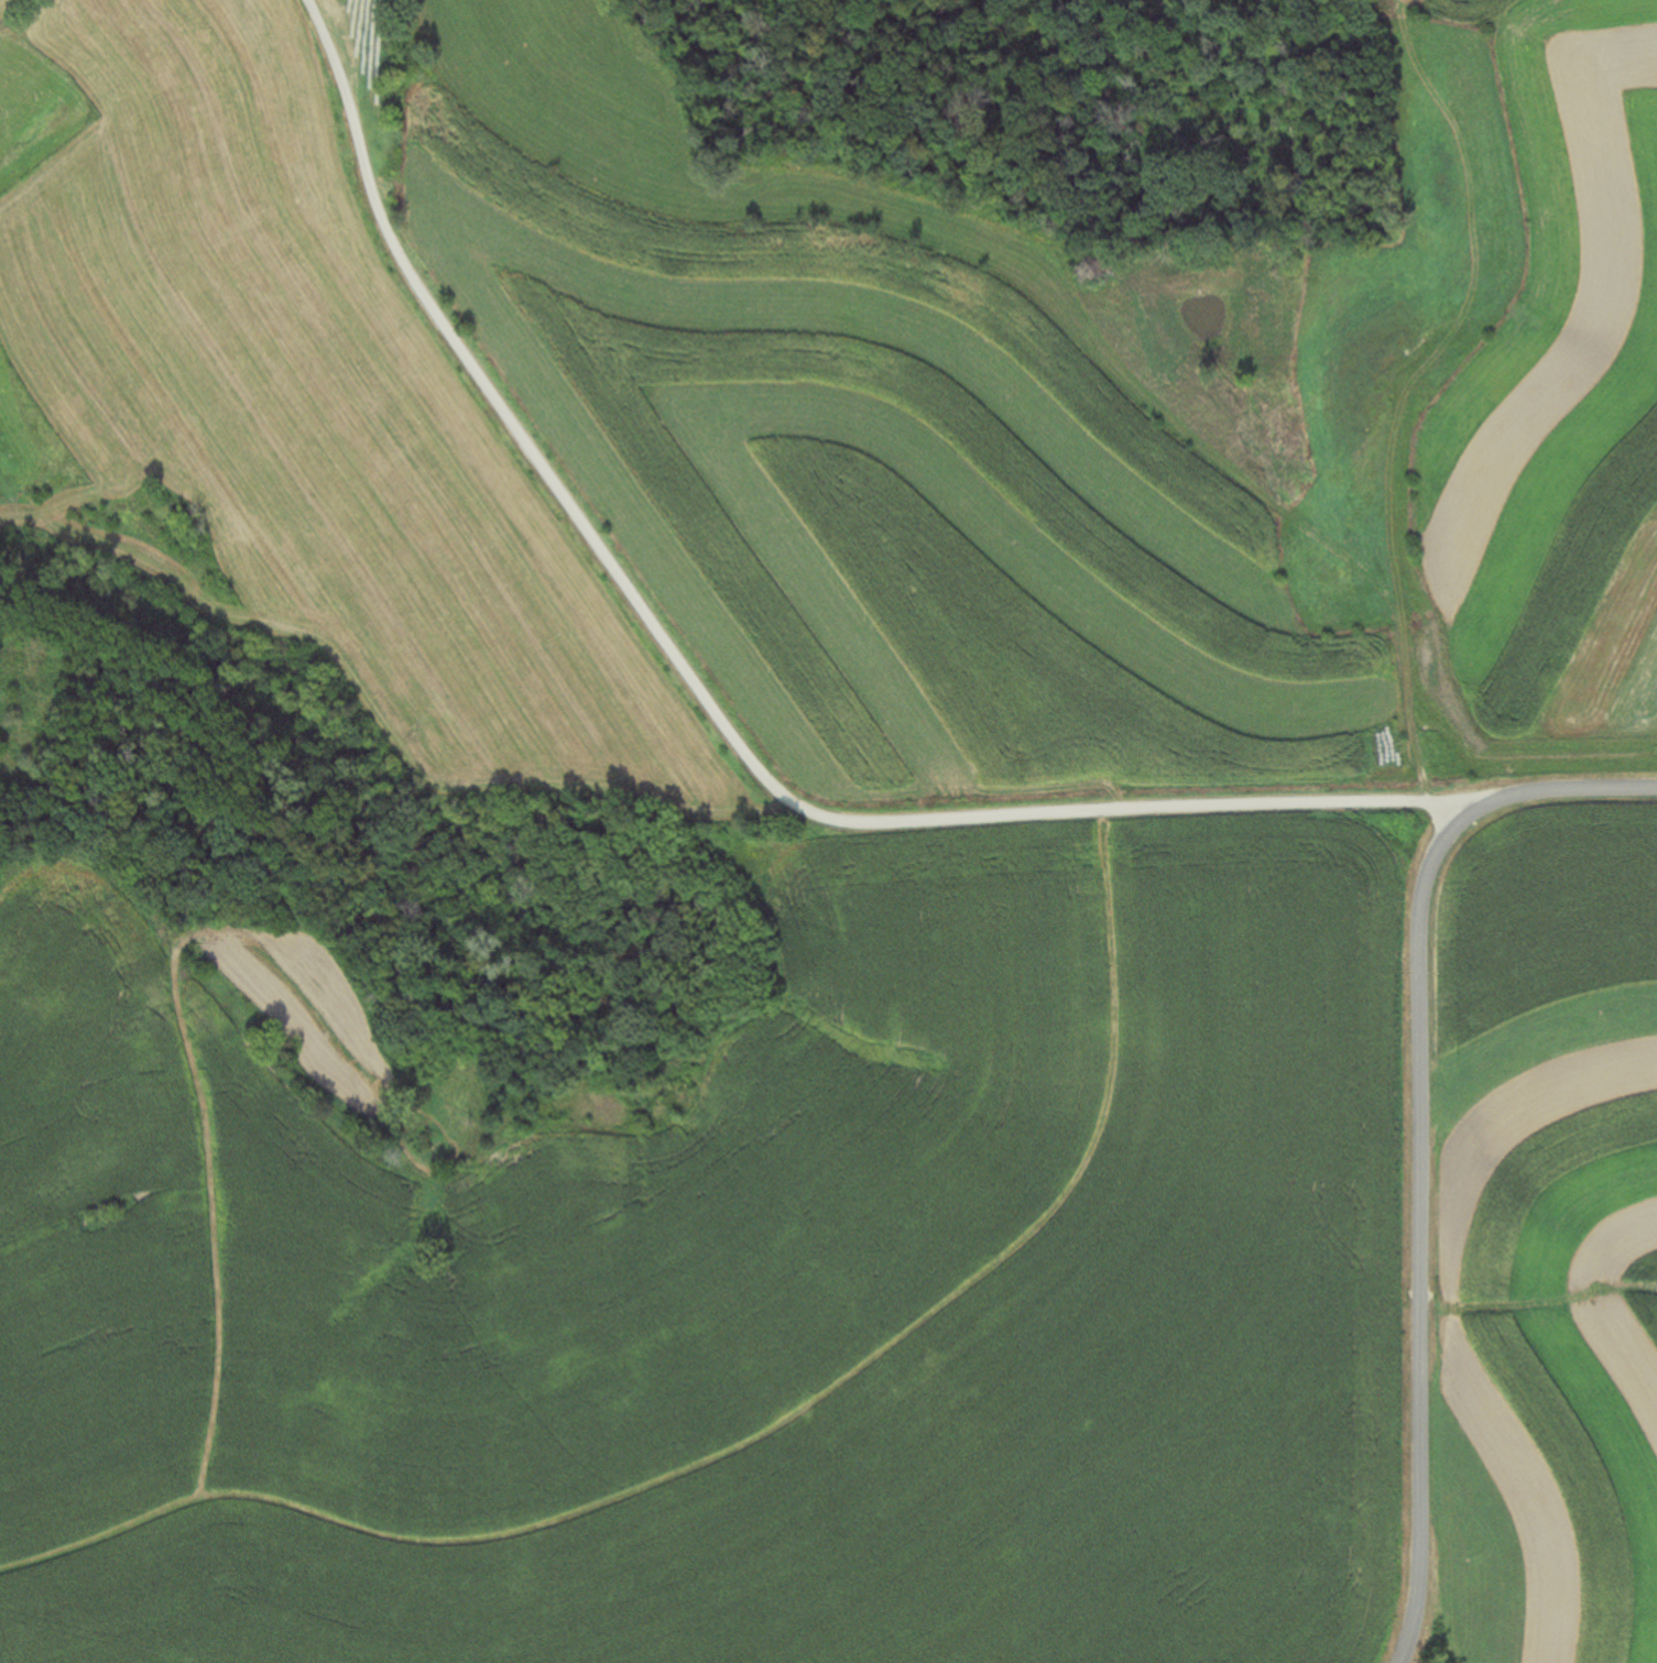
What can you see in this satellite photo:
road: (707, 699)
road: (1558, 791)
road: (1418, 1233)

